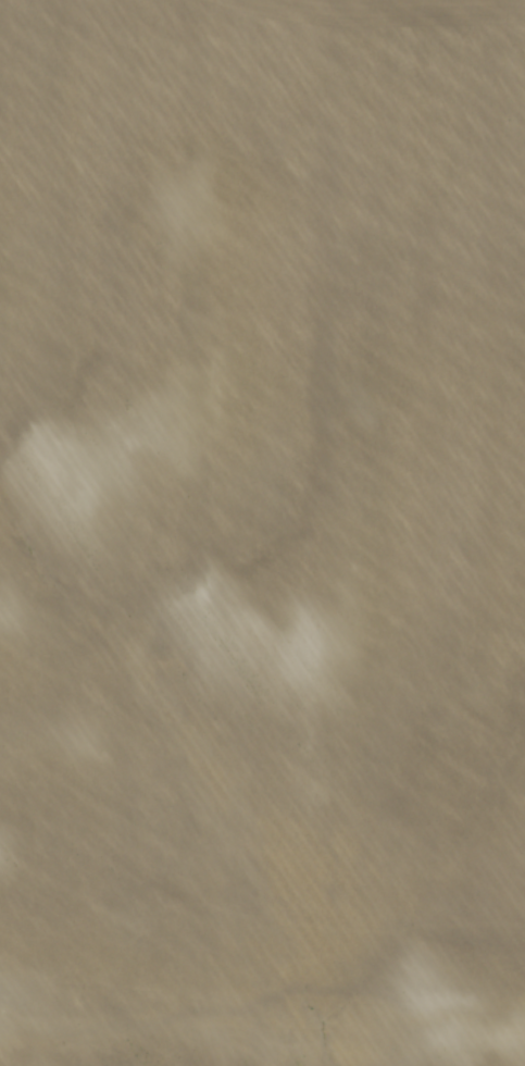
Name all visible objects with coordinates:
road: (262, 1027)

